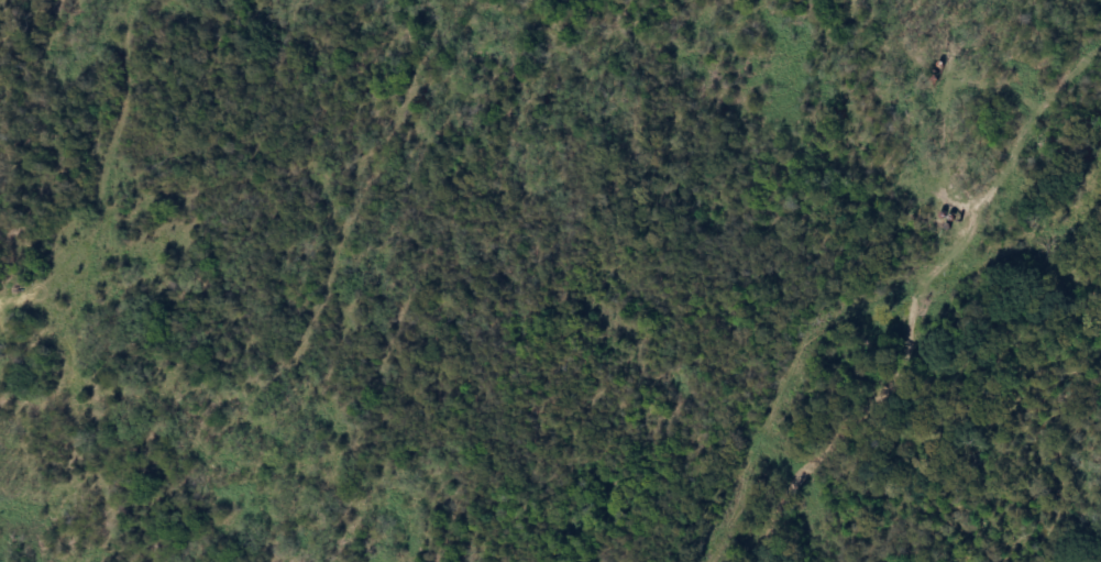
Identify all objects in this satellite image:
road: (106, 172)
road: (58, 397)
road: (22, 456)

